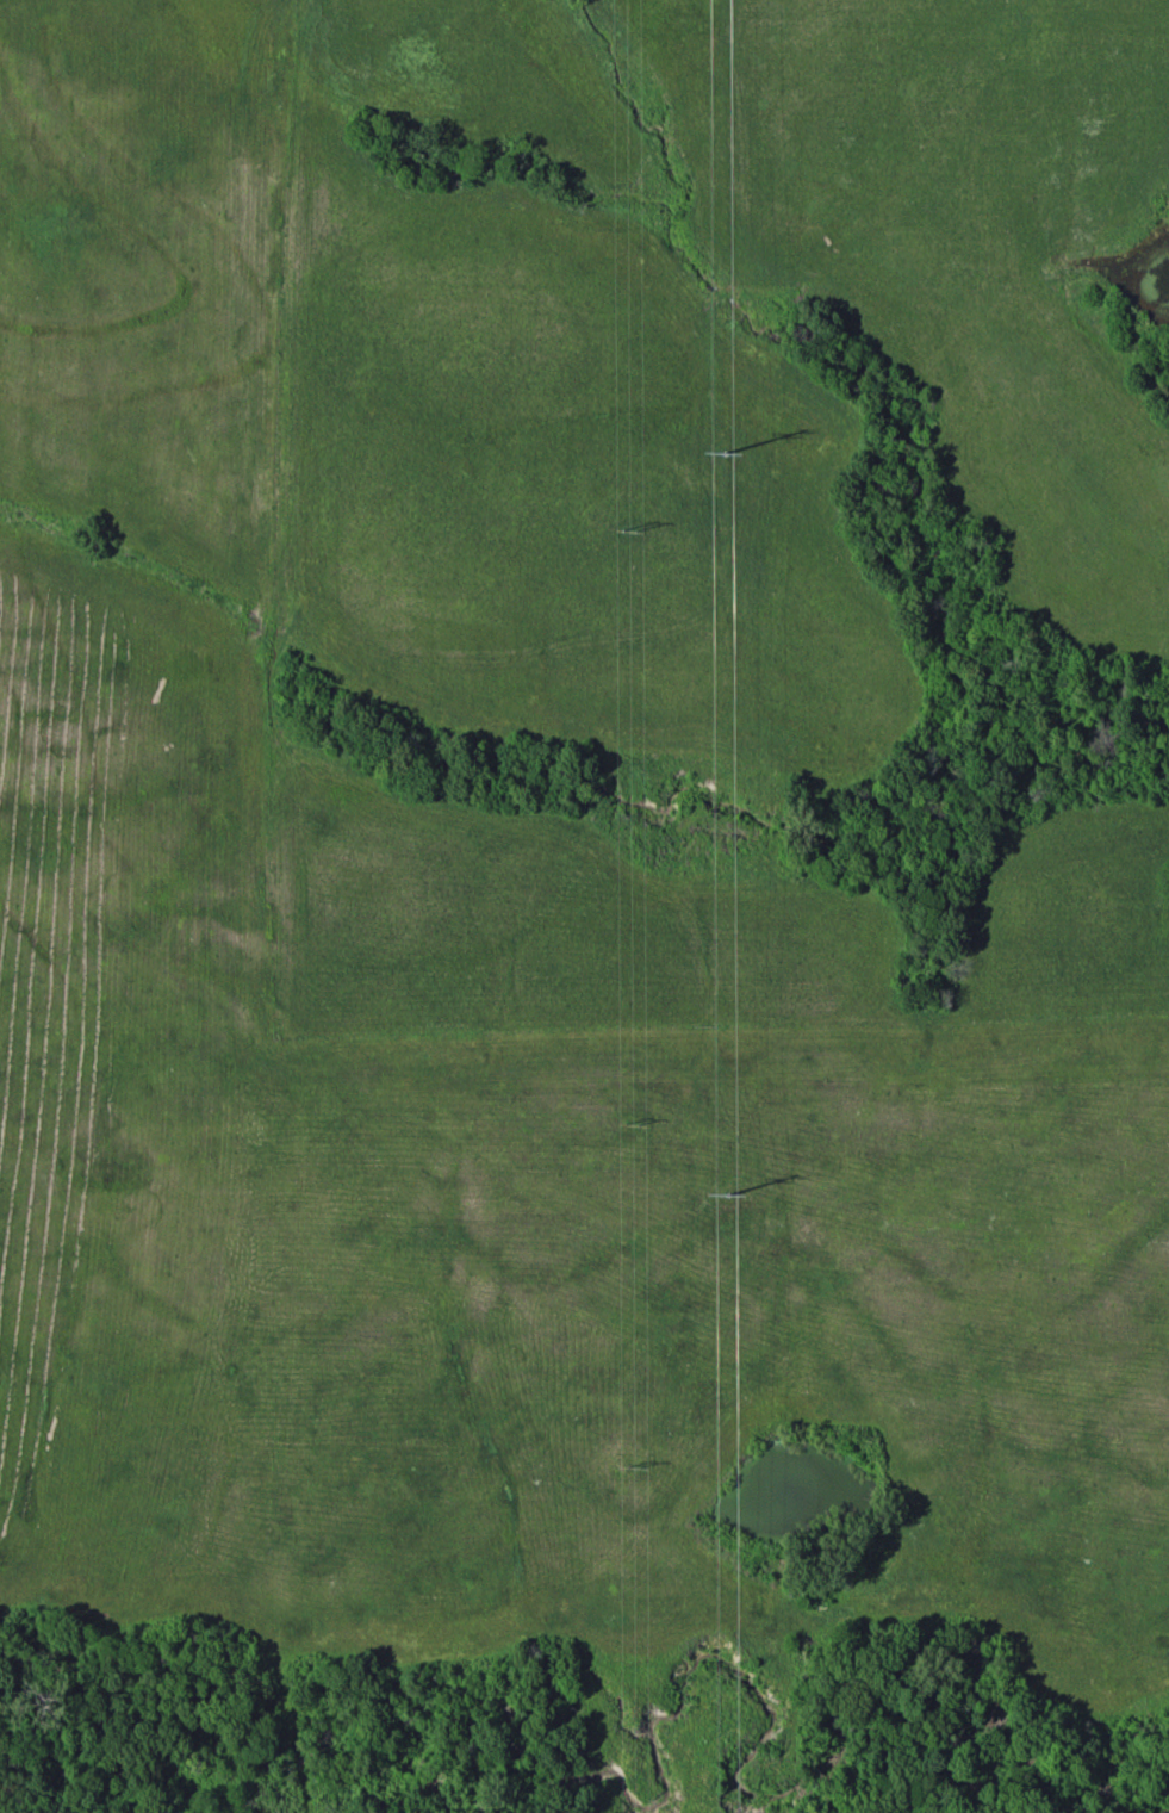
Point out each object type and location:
power tower: (717, 449)
power tower: (624, 535)
power tower: (624, 1123)
power tower: (723, 1197)
power tower: (629, 1469)

